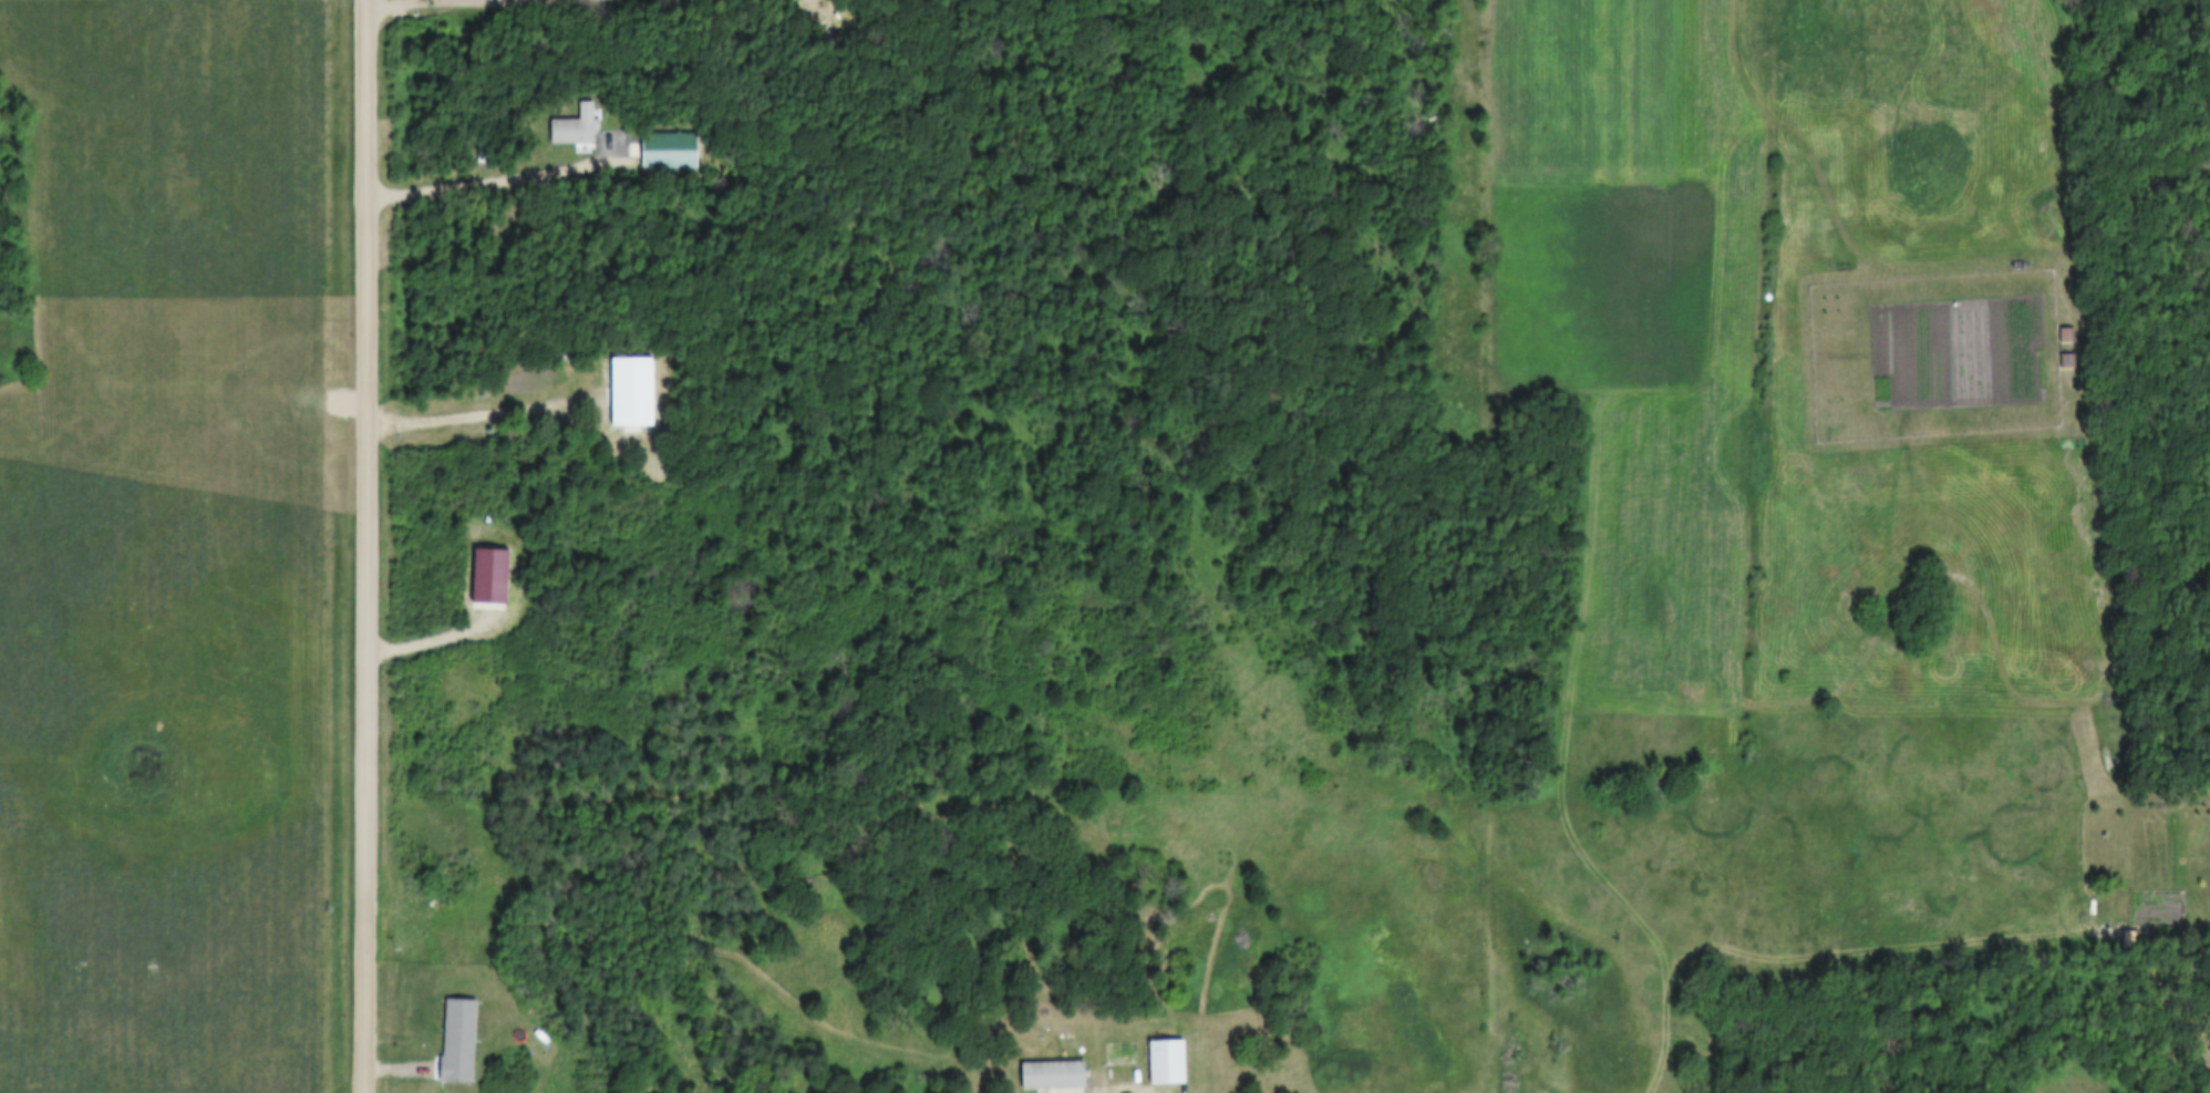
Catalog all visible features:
building: (815, 17)
building: (568, 128)
building: (659, 147)
building: (2062, 333)
building: (2063, 359)
building: (619, 389)
road: (370, 546)
building: (481, 575)
building: (448, 1039)
building: (1156, 1059)
building: (1043, 1074)

